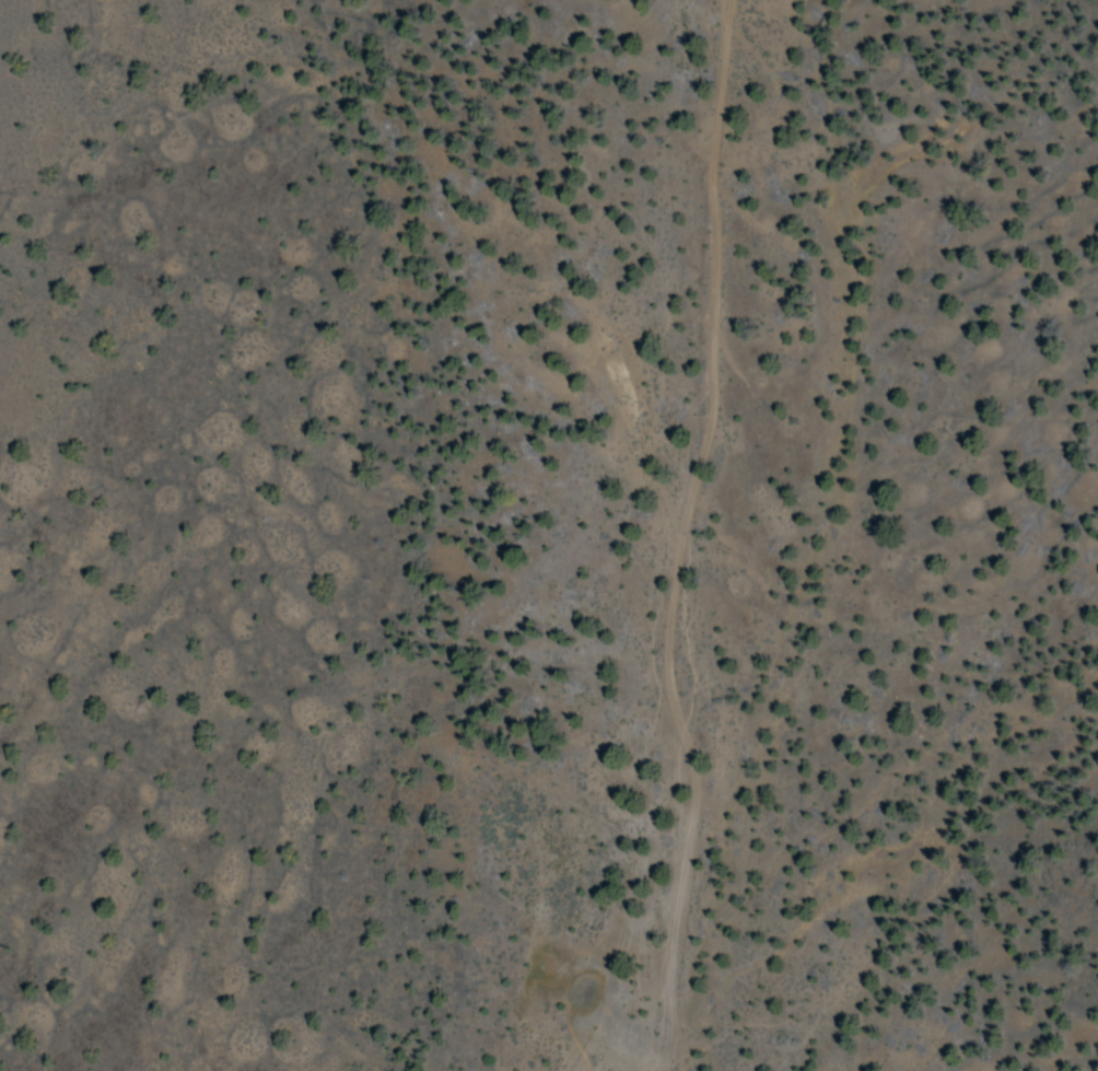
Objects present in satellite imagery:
road: (684, 536)

